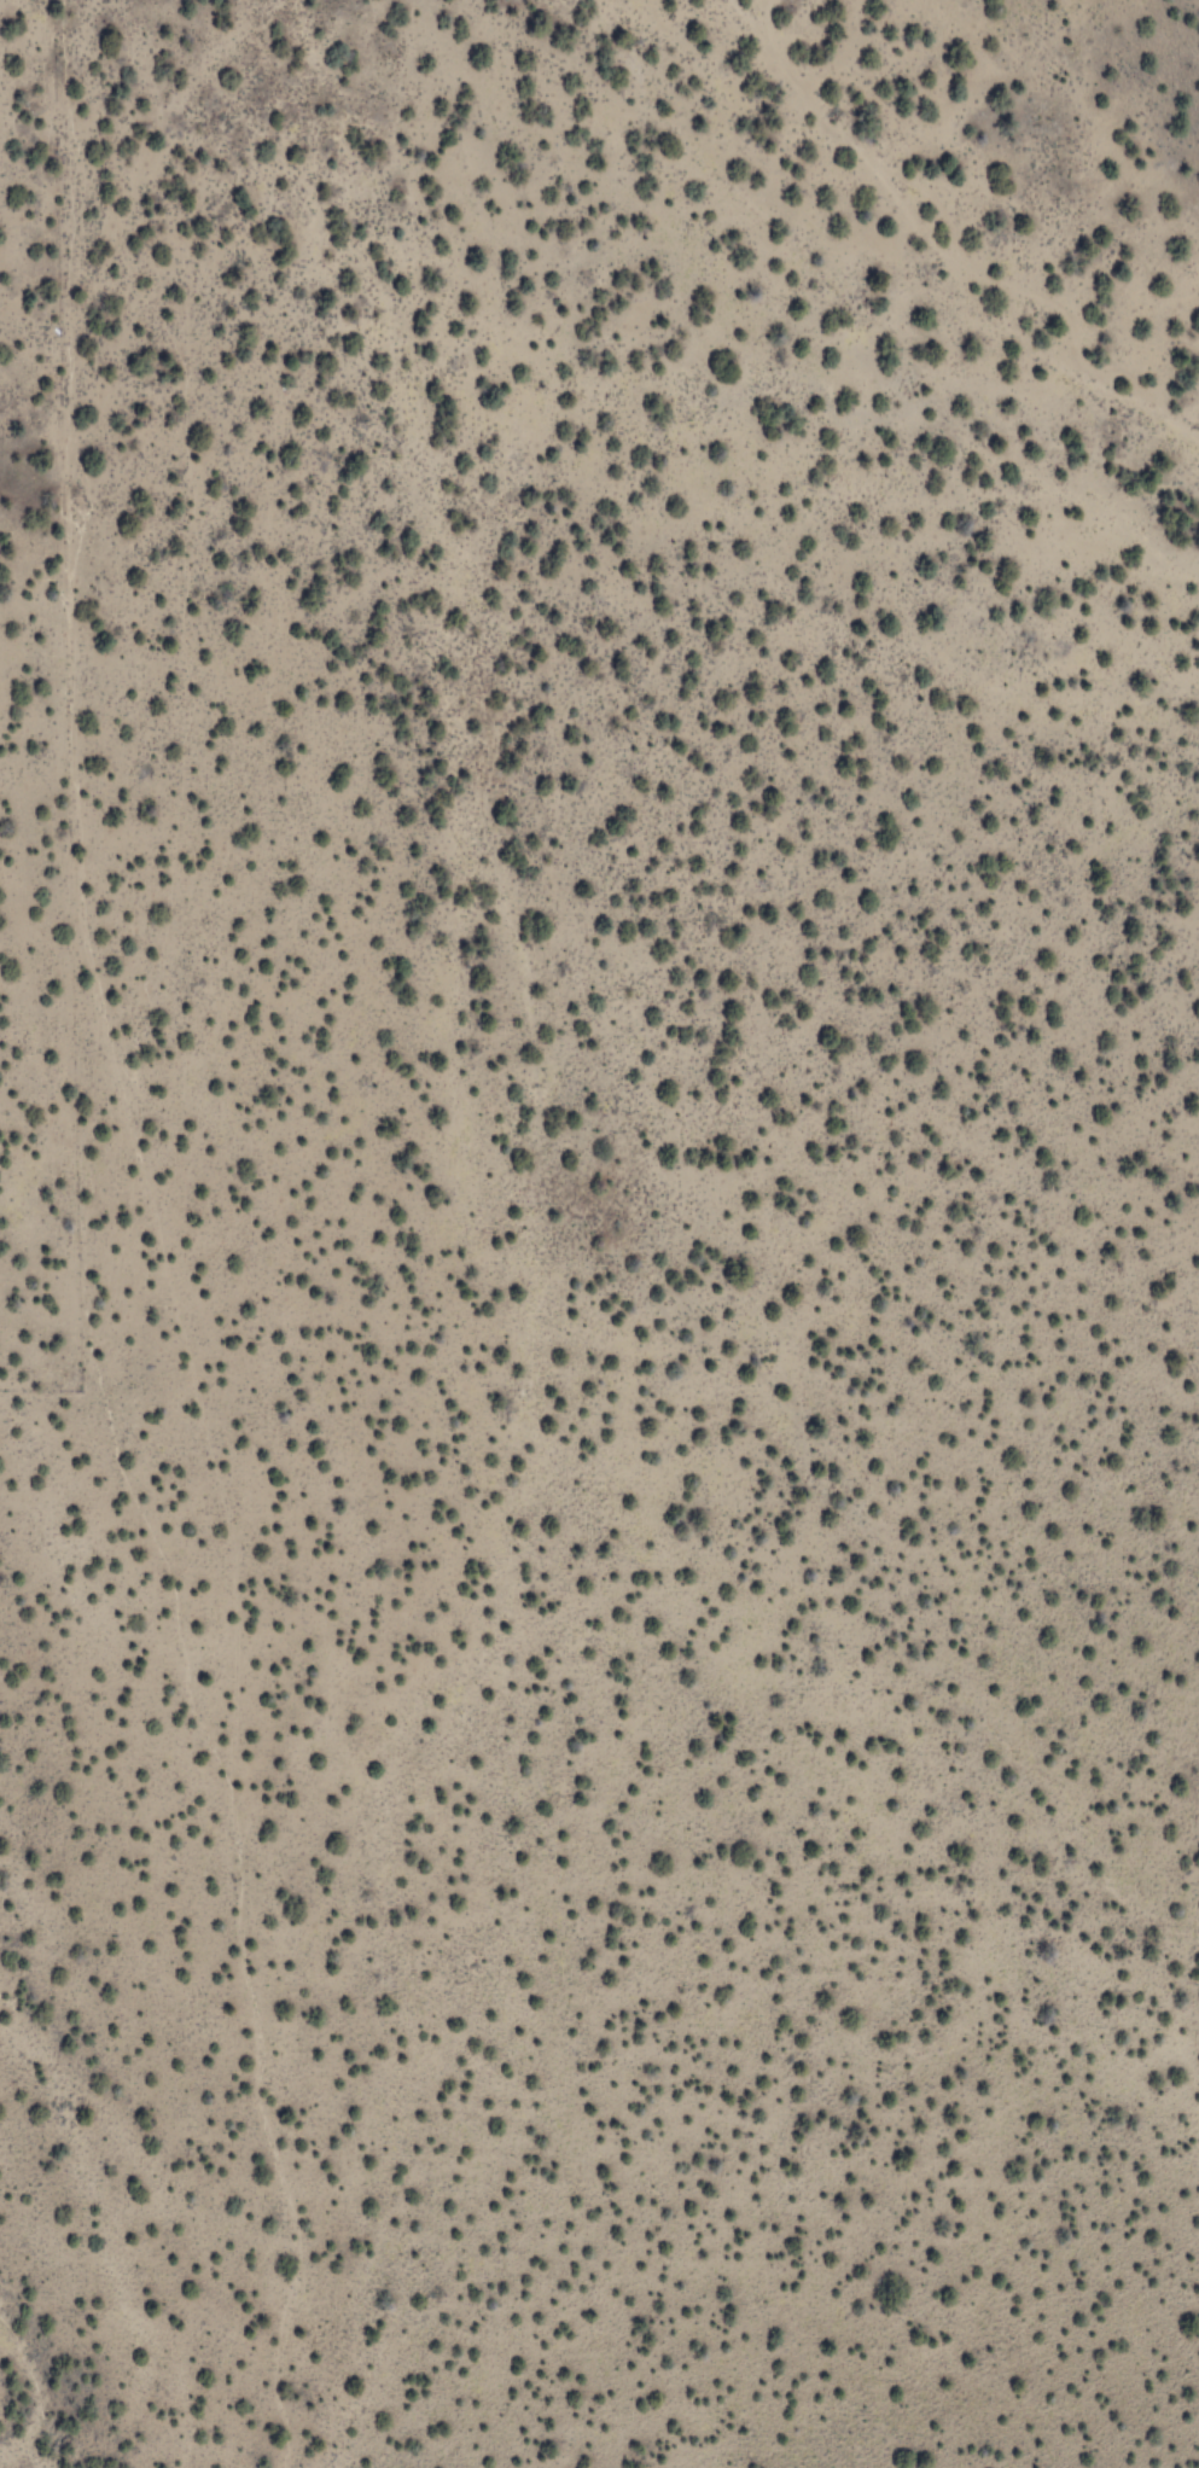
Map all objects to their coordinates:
road: (912, 256)

